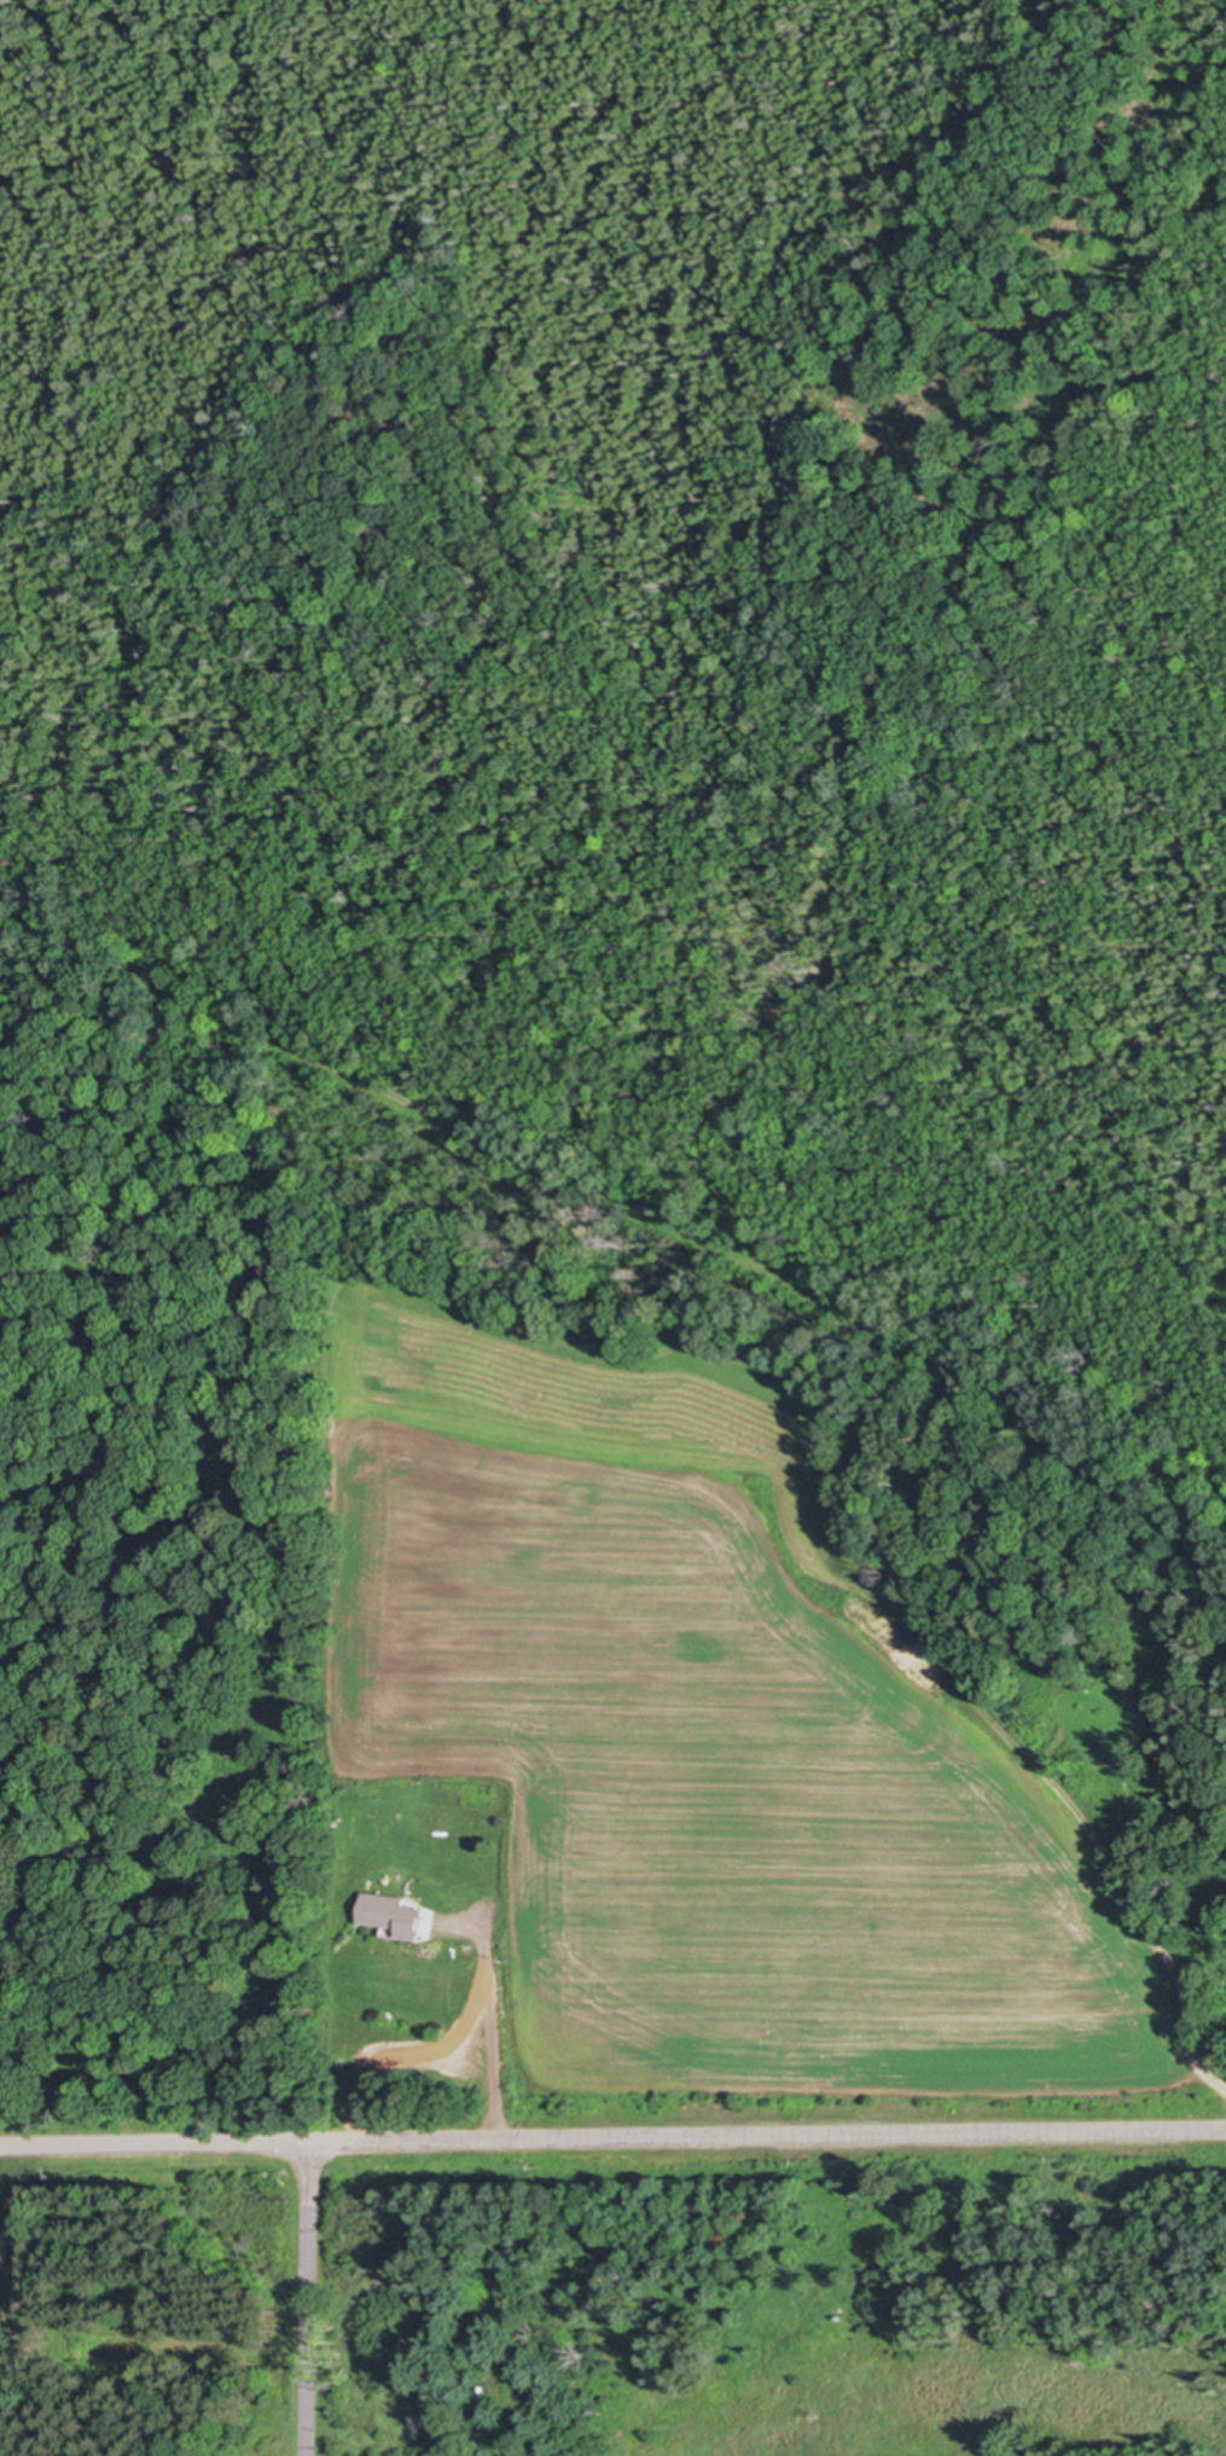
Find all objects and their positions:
road: (635, 1206)
building: (385, 1916)
road: (488, 2037)
road: (612, 2137)
road: (307, 2298)

